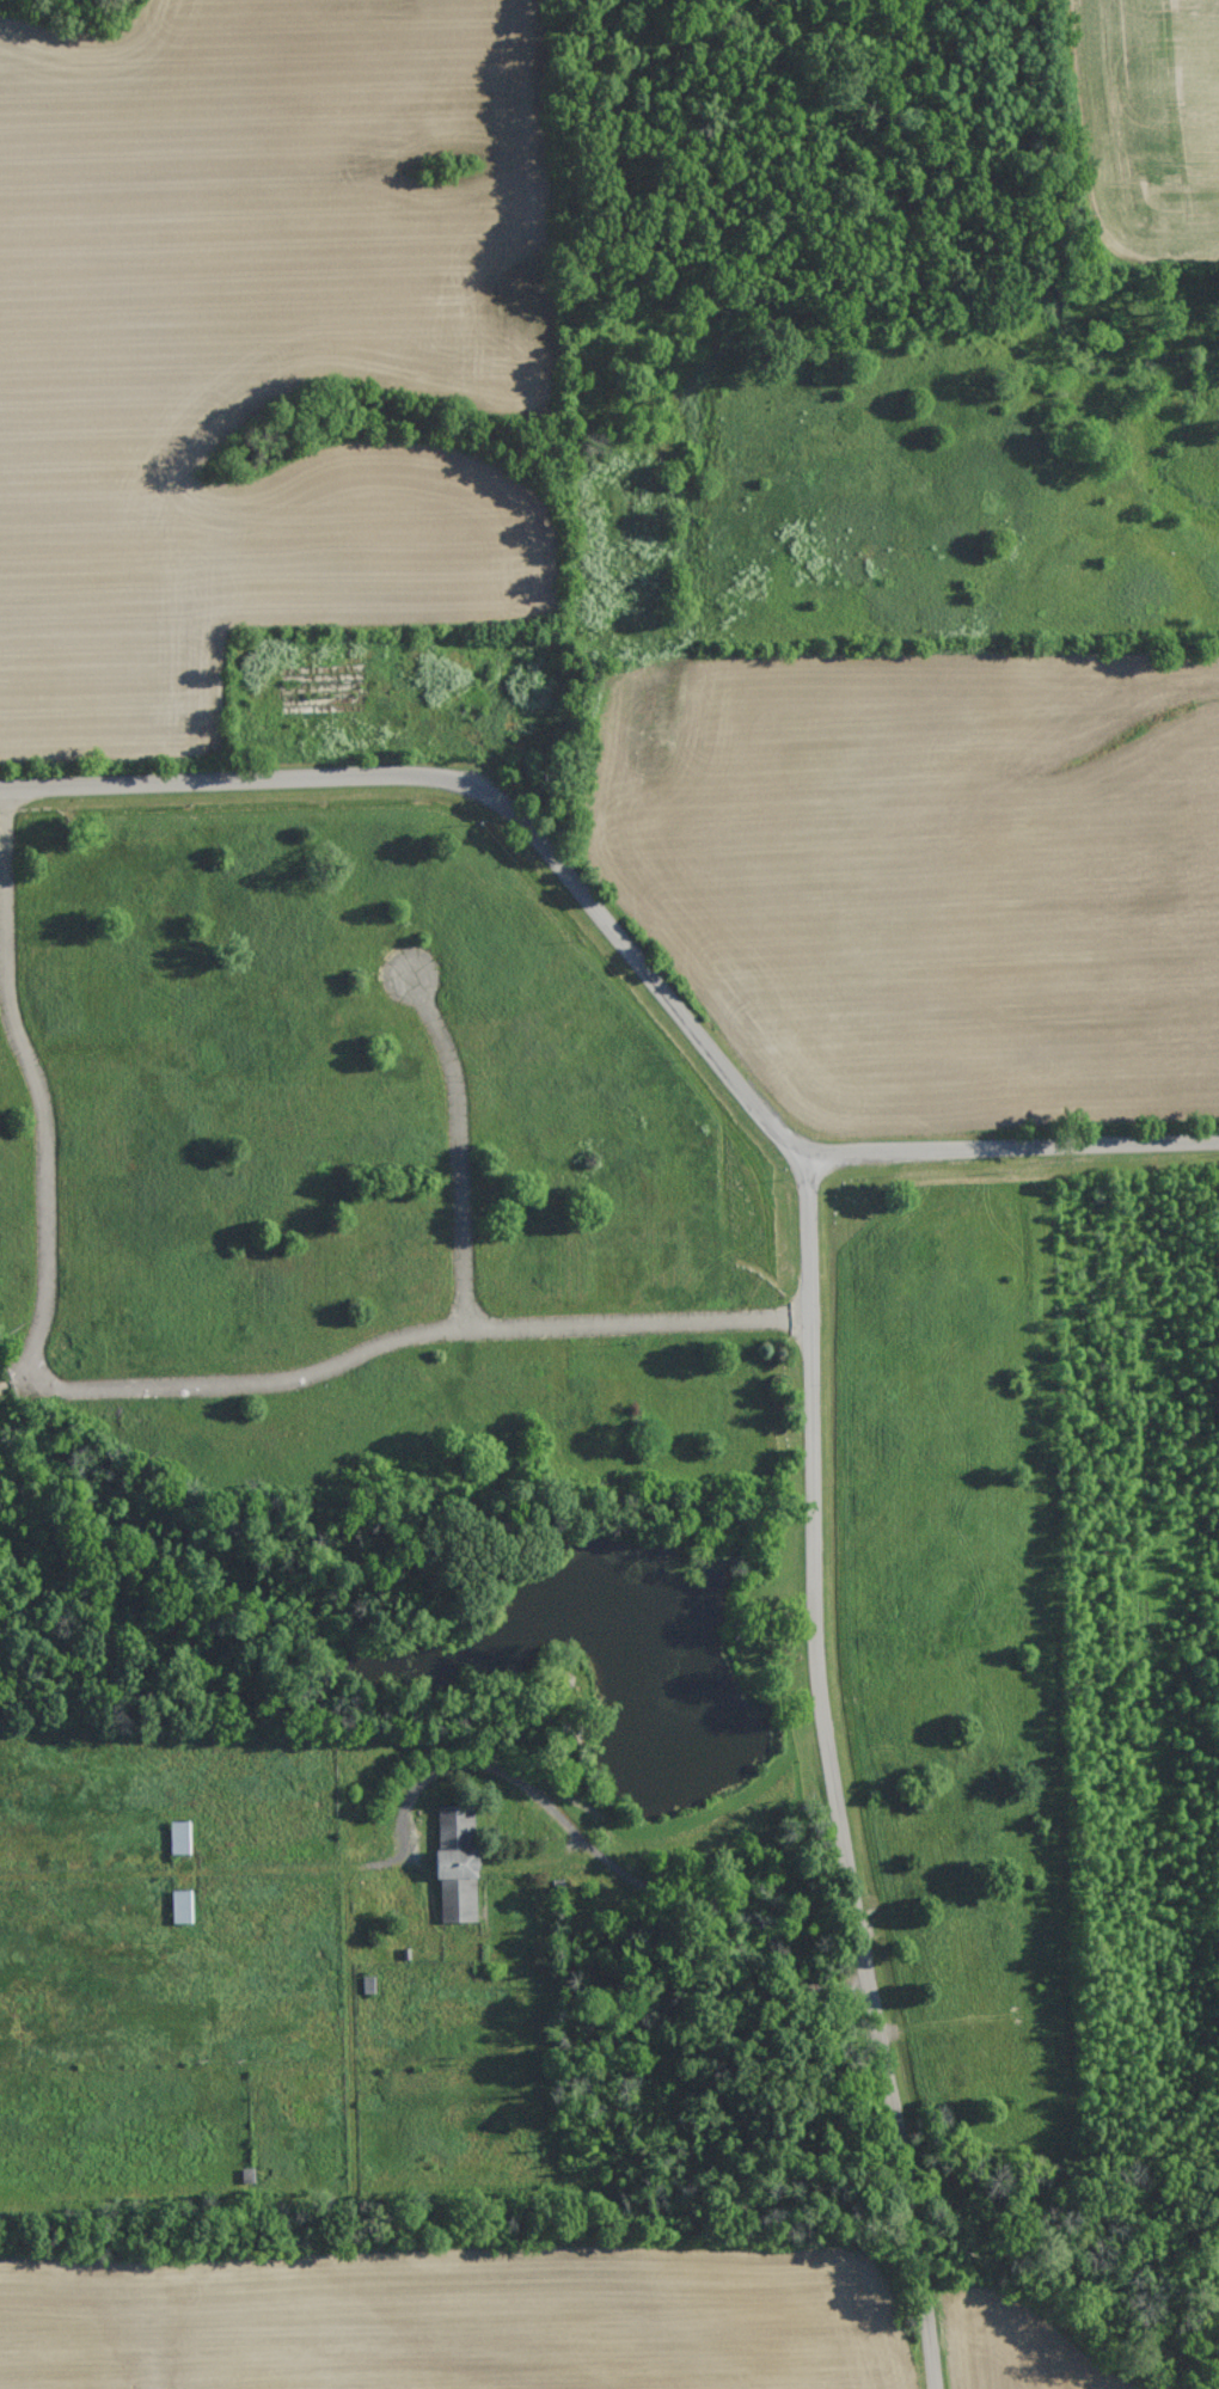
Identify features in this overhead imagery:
crop: (1151, 123)
crop: (253, 339)
road: (621, 942)
road: (42, 1091)
road: (460, 1145)
road: (400, 1334)
road: (832, 1772)
building: (179, 1837)
building: (457, 1864)
road: (623, 1870)
building: (180, 1905)

